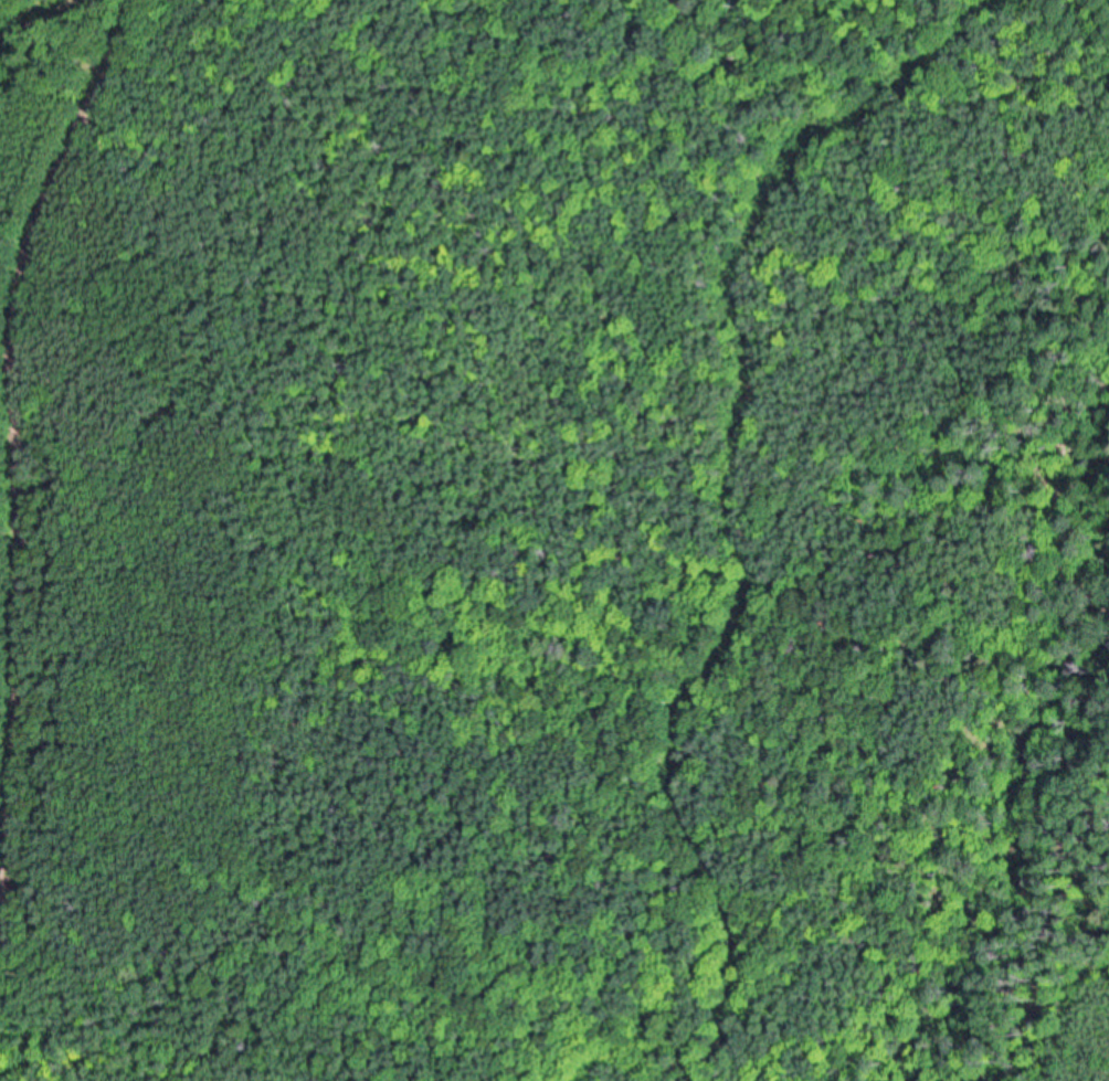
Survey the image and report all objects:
road: (19, 446)

